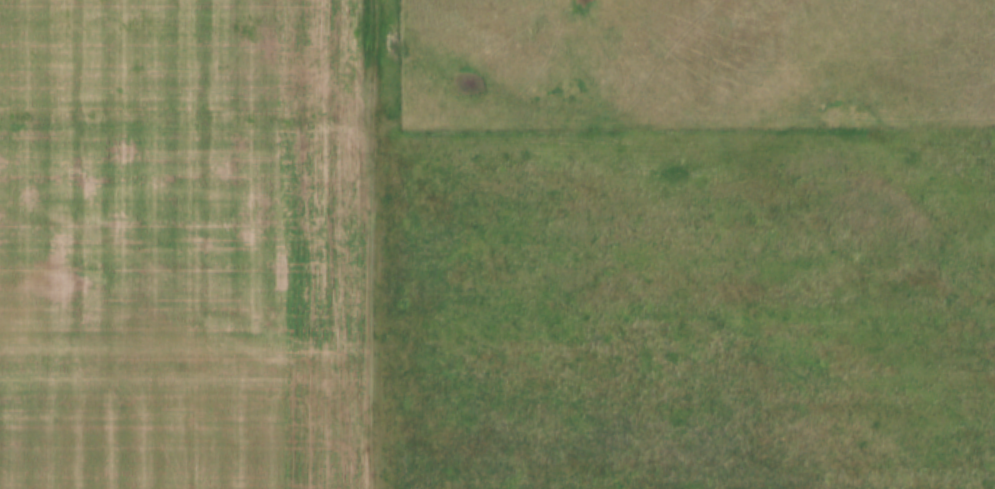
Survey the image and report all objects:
road: (187, 134)
road: (367, 208)
road: (229, 303)

